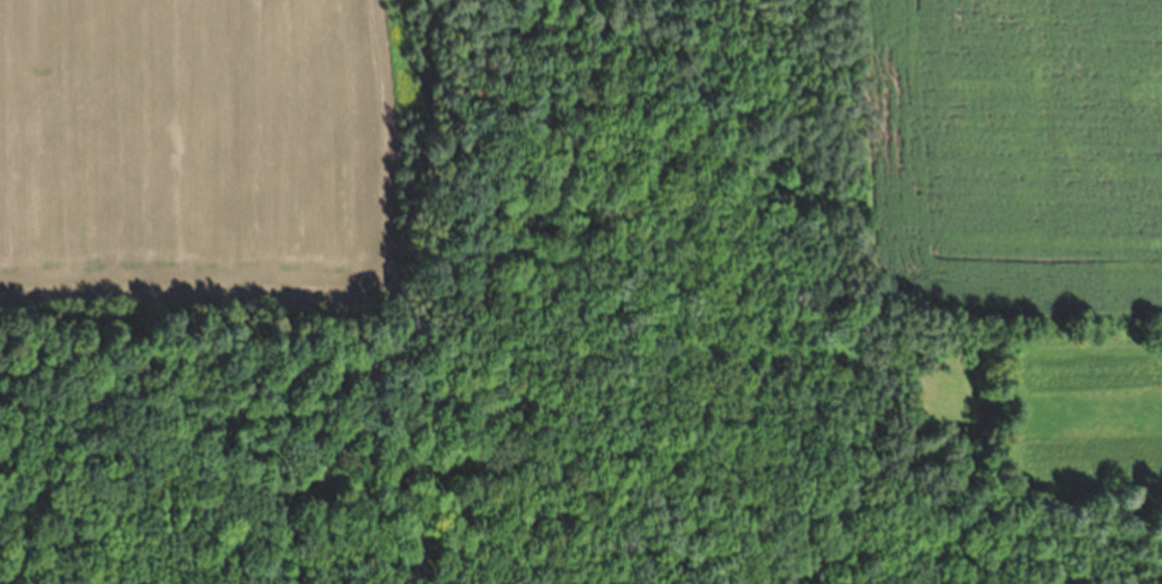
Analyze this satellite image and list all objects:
airport: (420, 162)

